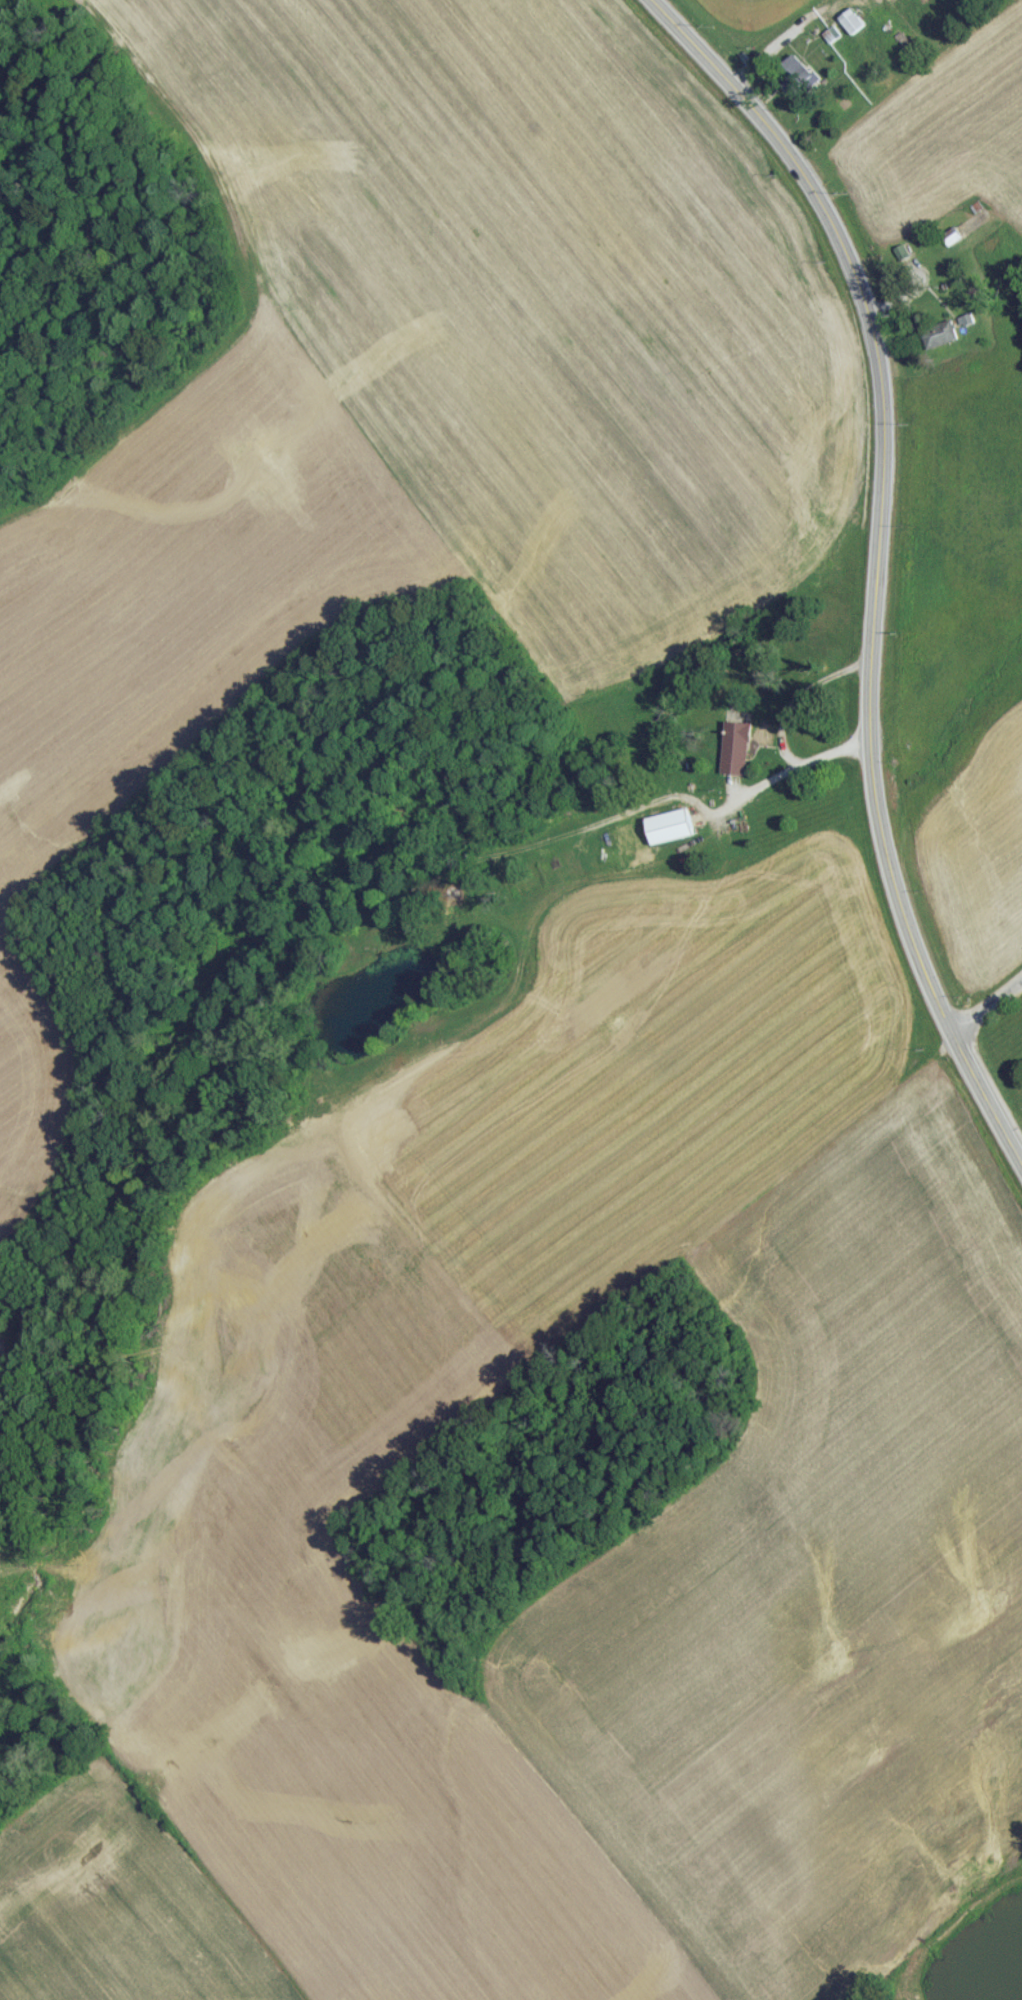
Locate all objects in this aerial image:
building: (853, 27)
building: (795, 80)
building: (942, 341)
road: (877, 563)
road: (784, 725)
building: (736, 754)
building: (671, 832)
road: (986, 1008)

